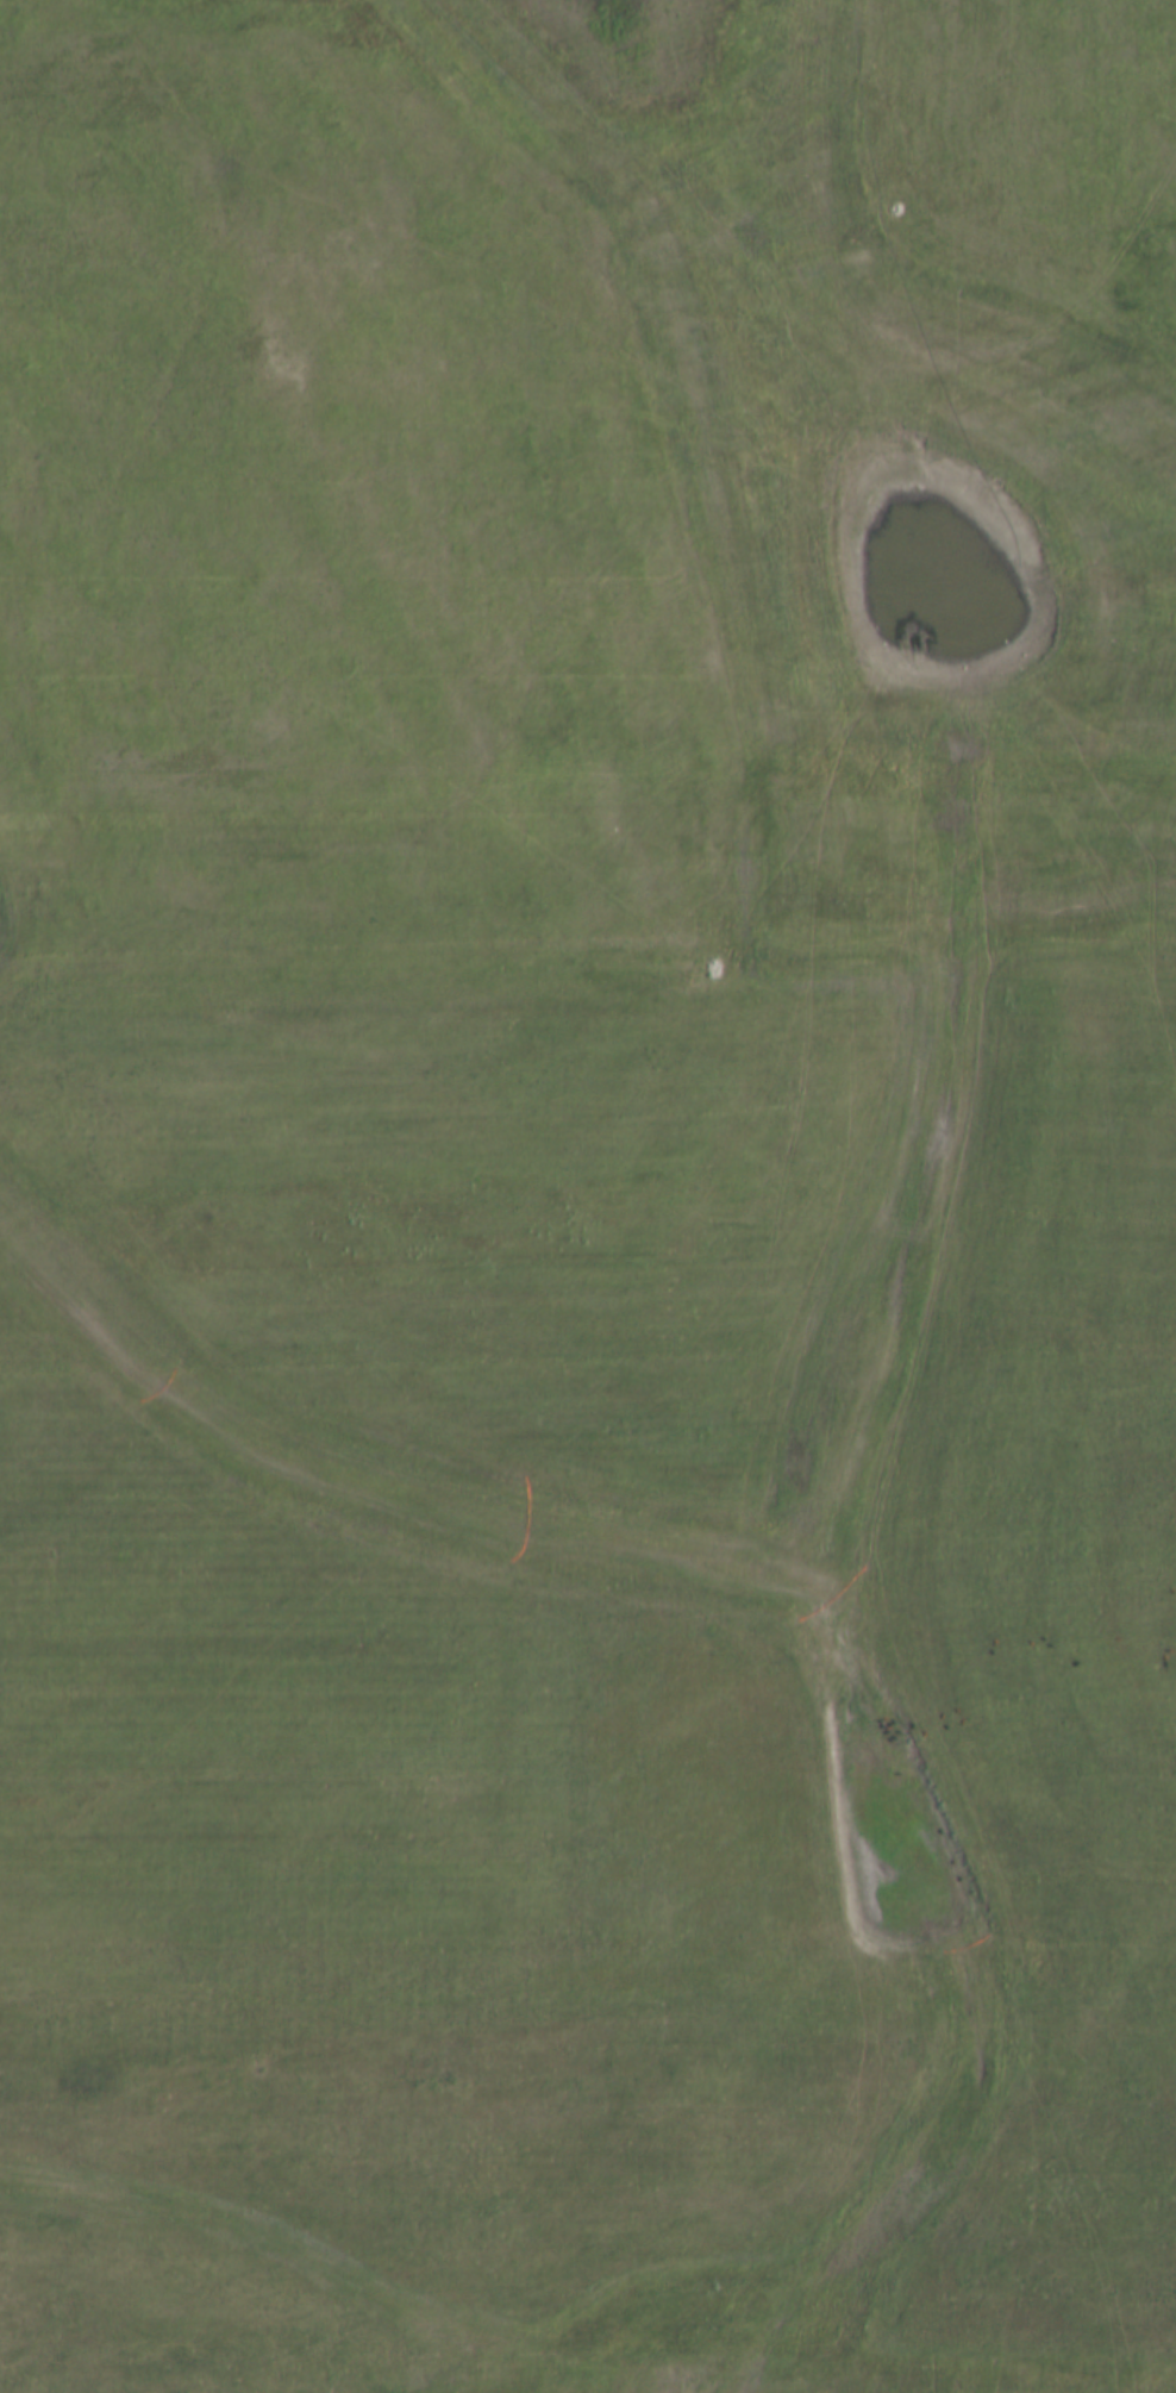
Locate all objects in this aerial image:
quarry: (588, 1196)

